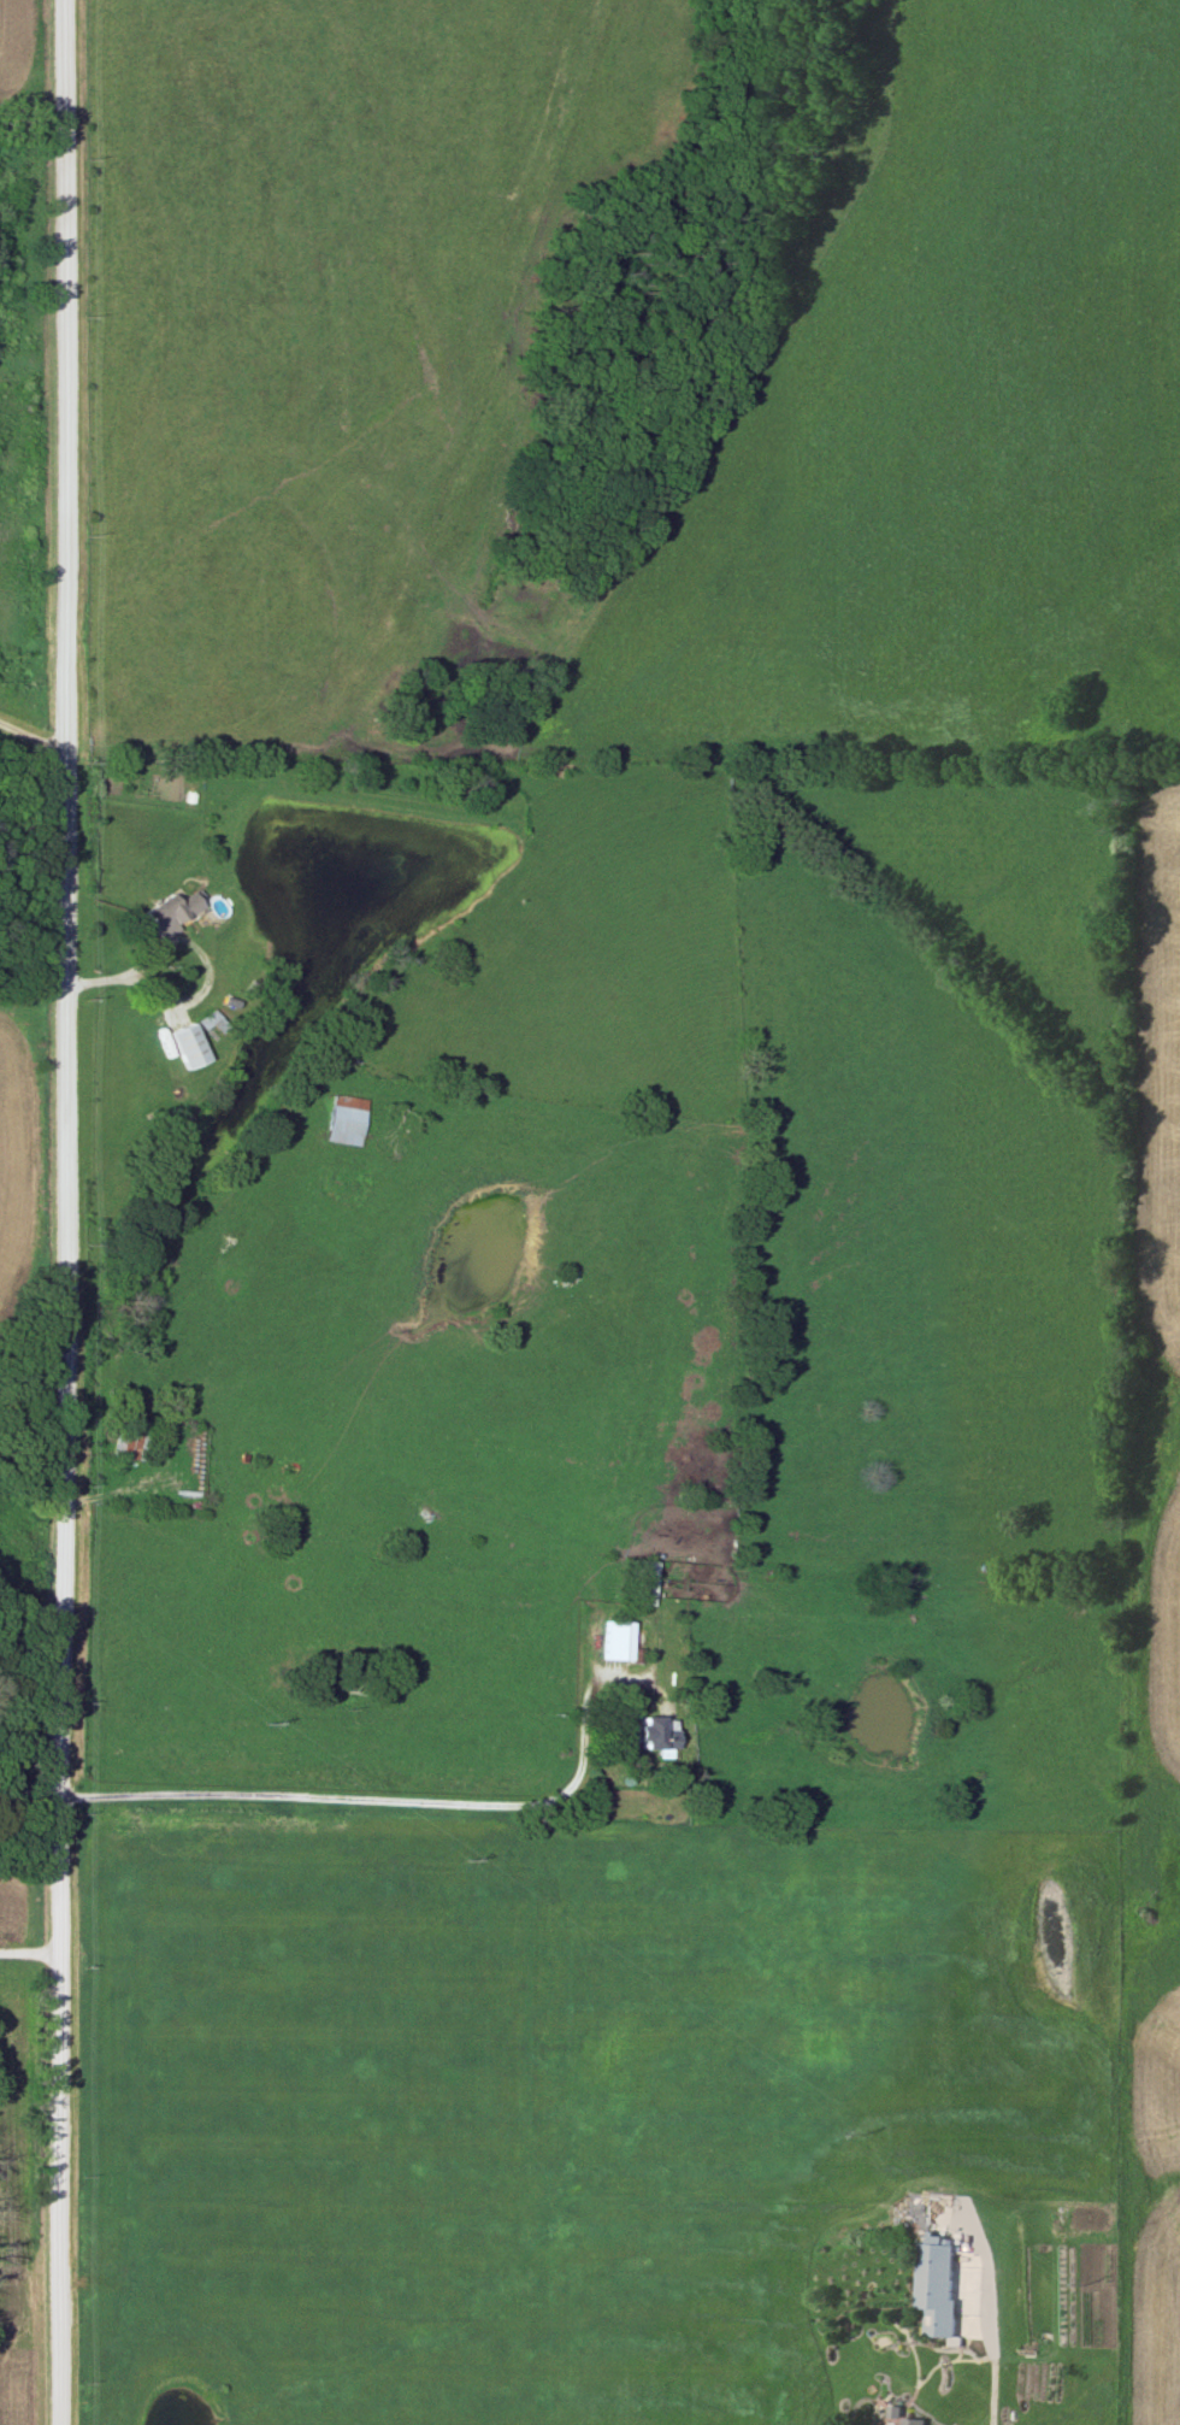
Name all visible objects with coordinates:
road: (36, 711)
building: (173, 912)
building: (211, 1023)
building: (185, 1046)
building: (347, 1119)
road: (72, 1212)
building: (130, 1438)
building: (641, 1583)
road: (302, 1588)
building: (614, 1641)
power tower: (261, 1727)
building: (653, 1736)
road: (409, 1799)
power tower: (461, 1864)
road: (35, 1960)
power tower: (855, 2136)
building: (931, 2285)
power tower: (1076, 2288)
road: (987, 2356)
building: (910, 2421)

